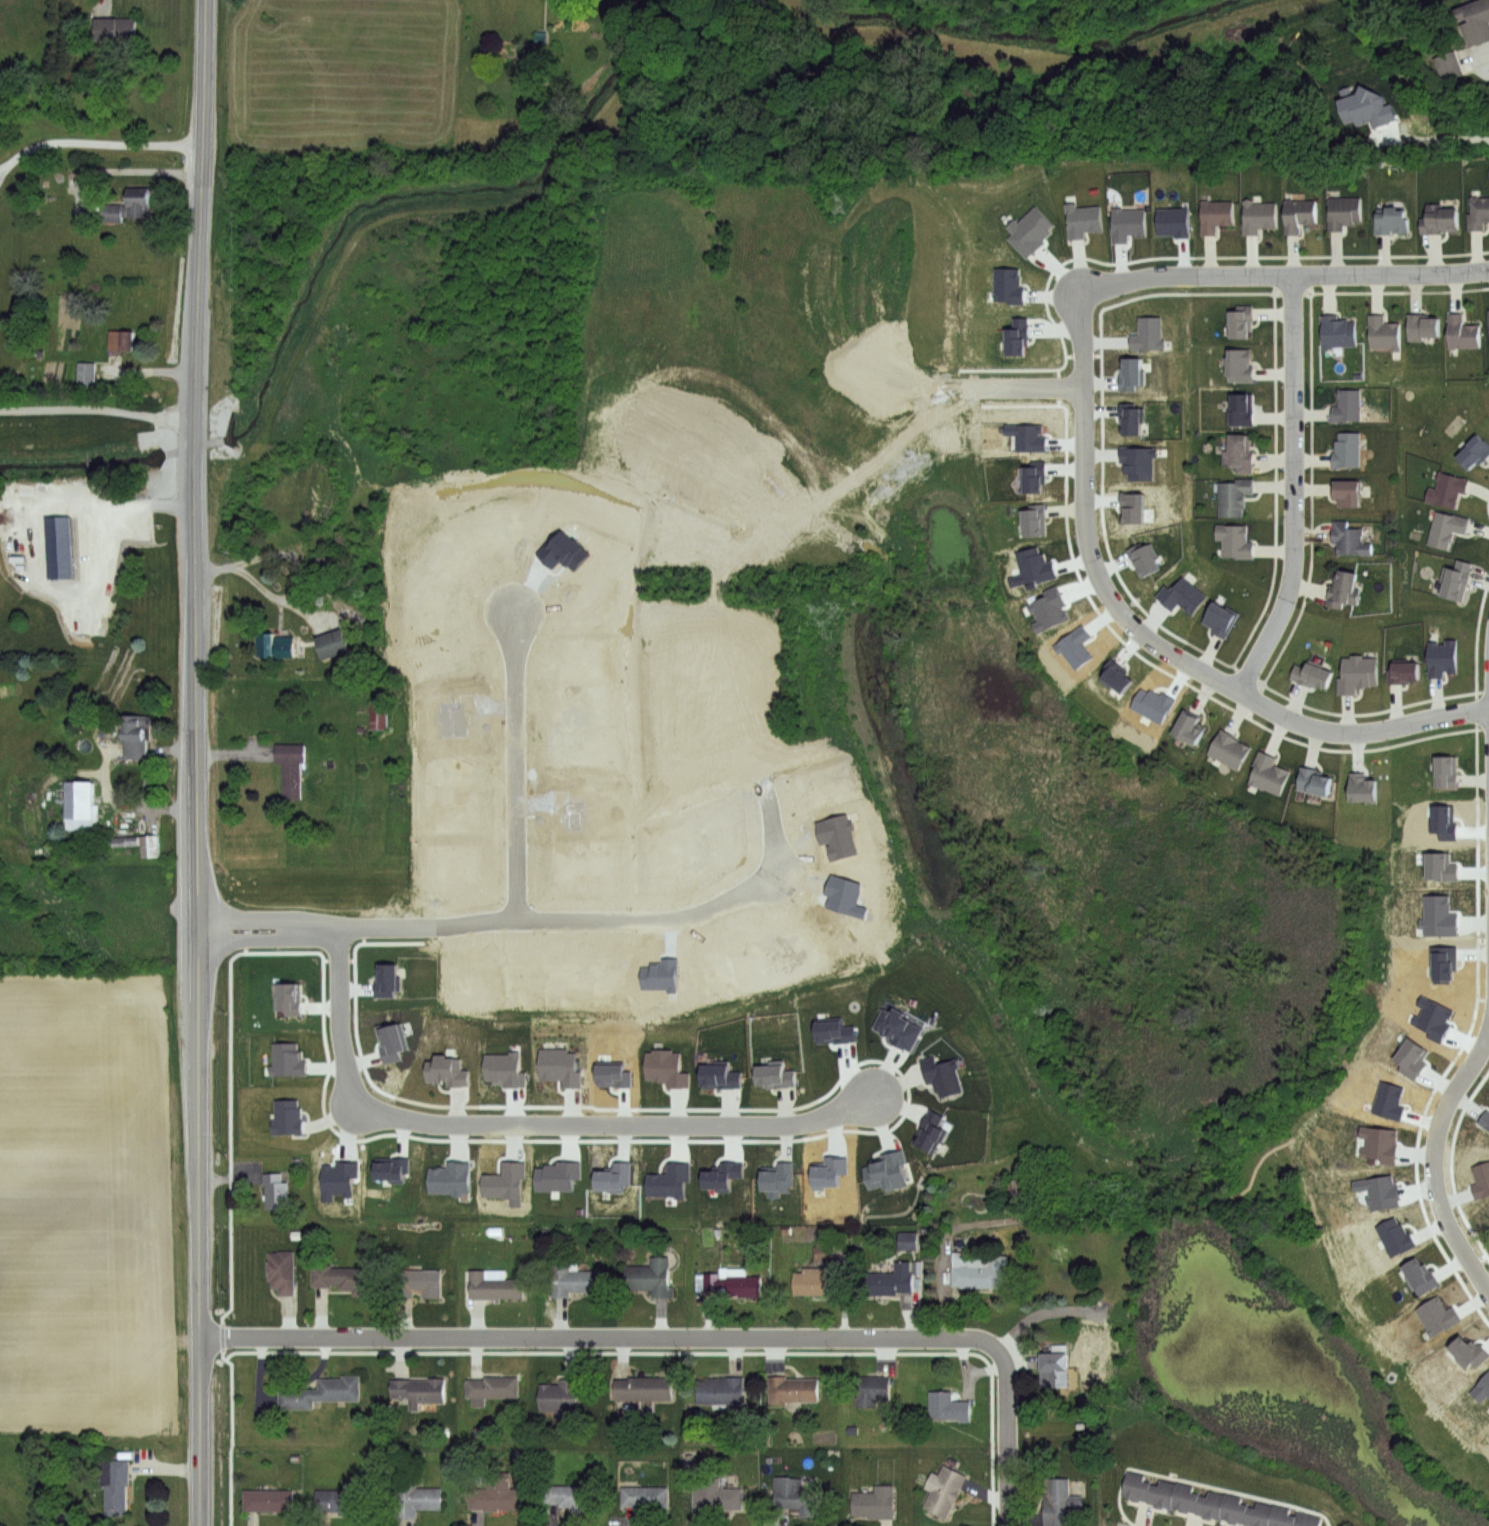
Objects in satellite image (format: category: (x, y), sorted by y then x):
building: (1475, 22)
building: (115, 28)
road: (1488, 56)
building: (1449, 66)
crop: (346, 74)
road: (1442, 137)
road: (96, 143)
building: (127, 210)
building: (1342, 211)
building: (1477, 212)
building: (1298, 213)
building: (1215, 214)
building: (1257, 215)
building: (1438, 218)
building: (1082, 219)
building: (1390, 219)
building: (1173, 220)
building: (1126, 223)
building: (1030, 231)
road: (1284, 267)
building: (1007, 284)
building: (1240, 320)
building: (1488, 323)
building: (1422, 325)
building: (1336, 331)
building: (1382, 332)
building: (1461, 332)
building: (1147, 333)
building: (1016, 336)
building: (122, 341)
building: (1238, 364)
building: (1131, 373)
building: (87, 376)
road: (1017, 385)
building: (1346, 404)
road: (97, 407)
building: (1240, 409)
building: (1130, 417)
building: (1026, 436)
building: (1346, 449)
building: (1474, 451)
building: (1238, 453)
building: (1139, 463)
building: (1035, 475)
road: (1292, 485)
building: (1446, 489)
building: (1348, 492)
building: (1232, 495)
road: (114, 506)
building: (1132, 506)
building: (1035, 519)
building: (1445, 527)
building: (1349, 538)
building: (1233, 540)
building: (58, 548)
building: (1144, 559)
building: (1033, 567)
building: (1454, 579)
building: (1344, 589)
building: (1184, 597)
building: (1049, 609)
building: (1222, 621)
road: (1143, 635)
building: (333, 645)
building: (276, 646)
building: (1075, 646)
building: (1443, 658)
building: (1405, 673)
building: (1116, 675)
building: (1359, 675)
building: (1315, 676)
building: (1151, 704)
building: (380, 714)
building: (1191, 727)
building: (136, 734)
building: (1230, 749)
road: (197, 762)
road: (515, 765)
building: (292, 767)
building: (1448, 771)
building: (1270, 772)
building: (1316, 780)
building: (1364, 786)
building: (81, 803)
building: (1445, 820)
building: (837, 834)
building: (141, 843)
building: (1441, 865)
building: (845, 895)
building: (1438, 915)
crop: (85, 917)
road: (532, 918)
building: (1443, 962)
building: (658, 974)
building: (385, 979)
building: (287, 997)
building: (1433, 1017)
building: (900, 1026)
building: (833, 1029)
building: (390, 1040)
building: (1411, 1057)
building: (286, 1058)
building: (557, 1065)
building: (504, 1067)
building: (667, 1067)
building: (448, 1070)
building: (611, 1073)
building: (777, 1074)
building: (945, 1075)
building: (722, 1076)
building: (1387, 1099)
building: (288, 1117)
building: (1484, 1118)
road: (532, 1121)
building: (934, 1132)
building: (1377, 1143)
road: (1431, 1161)
building: (392, 1167)
building: (827, 1171)
building: (888, 1171)
building: (557, 1175)
building: (613, 1175)
building: (721, 1175)
building: (776, 1177)
building: (337, 1178)
building: (452, 1178)
building: (1480, 1178)
building: (668, 1179)
building: (504, 1182)
building: (1377, 1190)
building: (277, 1191)
building: (1021, 1192)
crop: (88, 1202)
building: (1393, 1236)
building: (909, 1241)
building: (825, 1250)
building: (980, 1270)
building: (283, 1272)
building: (1418, 1275)
building: (647, 1276)
building: (346, 1278)
building: (576, 1280)
building: (815, 1281)
building: (887, 1281)
building: (733, 1282)
building: (420, 1284)
building: (496, 1284)
building: (1437, 1314)
road: (598, 1336)
building: (1468, 1352)
building: (1056, 1369)
building: (1482, 1387)
building: (494, 1388)
building: (645, 1388)
building: (794, 1389)
building: (873, 1389)
building: (420, 1390)
building: (723, 1391)
building: (323, 1392)
building: (563, 1396)
building: (948, 1406)
road: (1009, 1434)
building: (117, 1484)
building: (1138, 1487)
building: (944, 1490)
building: (1164, 1493)
building: (498, 1494)
building: (718, 1495)
building: (571, 1496)
building: (648, 1496)
building: (797, 1496)
building: (416, 1498)
building: (1186, 1498)
building: (268, 1500)
building: (341, 1500)
building: (1061, 1502)
building: (877, 1503)
building: (1211, 1504)
building: (1235, 1510)
building: (1262, 1515)
building: (1285, 1517)
building: (1310, 1520)

